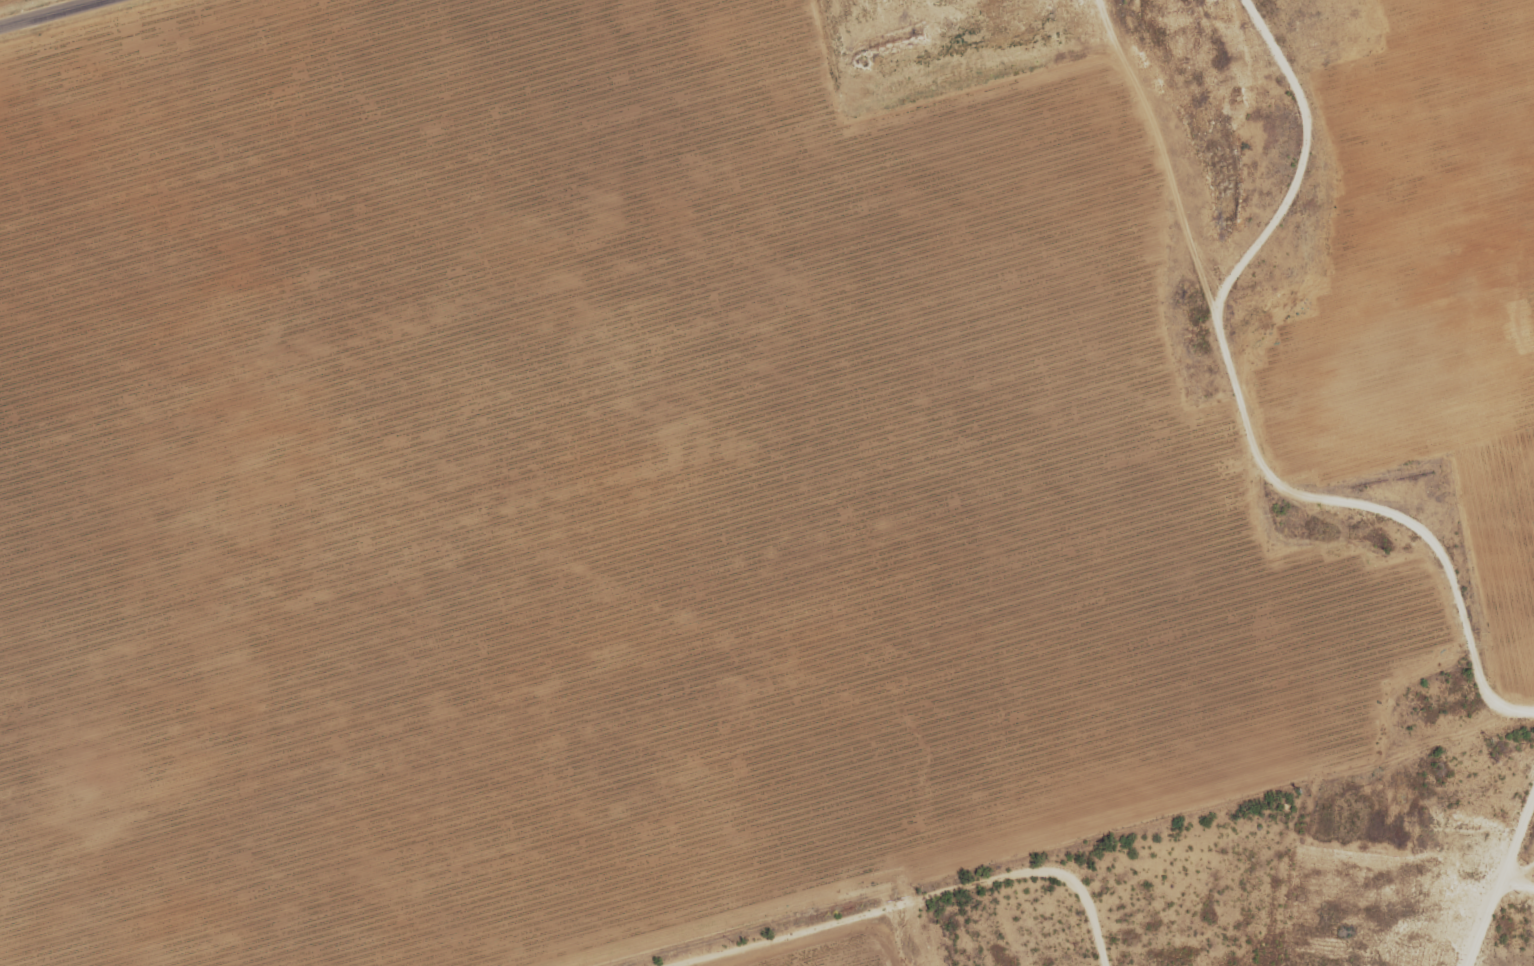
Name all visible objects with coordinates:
road: (43, 11)
road: (1244, 418)
road: (1057, 707)
road: (1500, 883)

